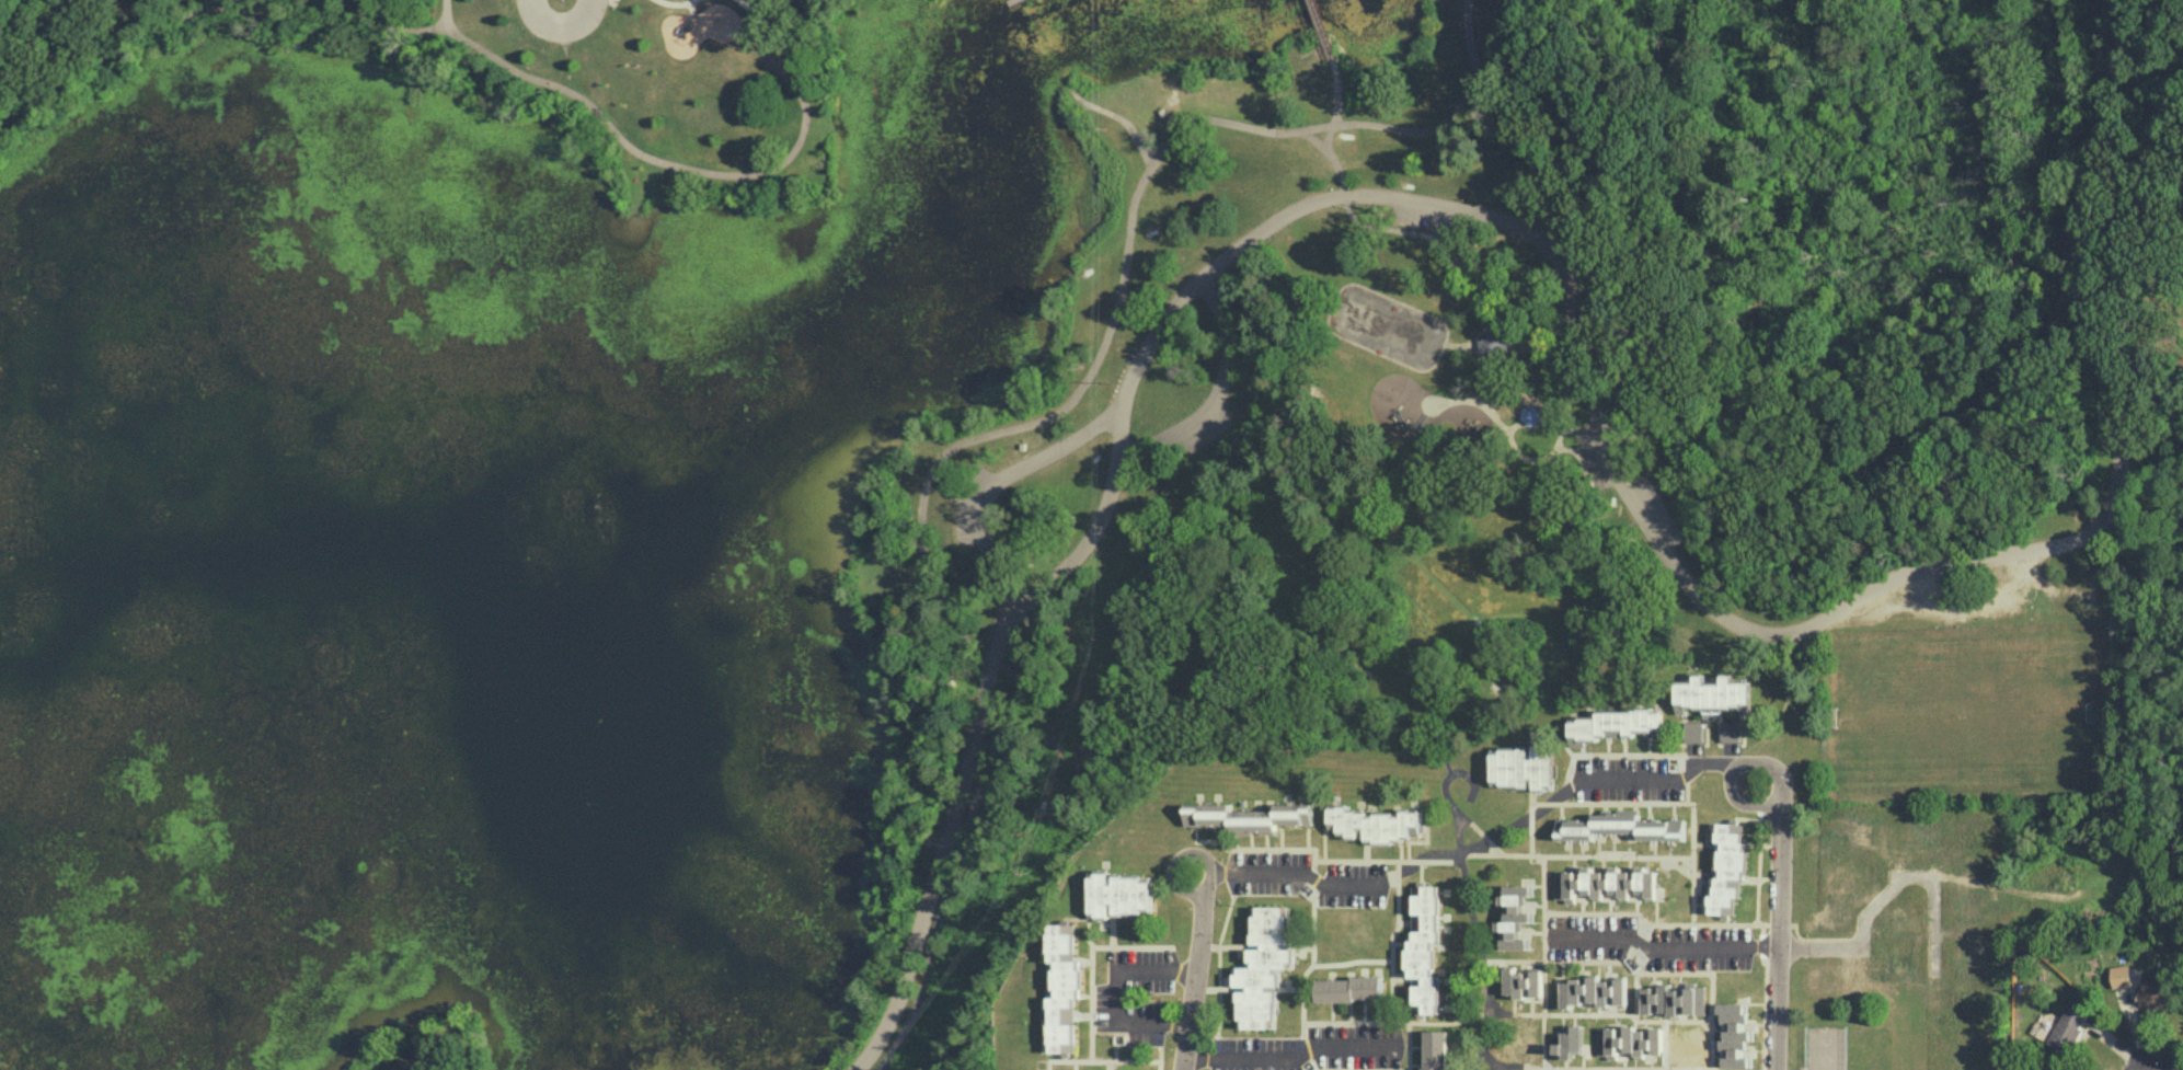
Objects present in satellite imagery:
pier: (1010, 0)
road: (600, 1)
road: (750, 1)
road: (676, 2)
road: (447, 14)
road: (752, 16)
road: (559, 23)
road: (1324, 30)
road: (484, 48)
road: (1123, 116)
road: (1315, 138)
road: (1345, 185)
parking lot: (1425, 218)
road: (1481, 279)
road: (1571, 285)
road: (1335, 331)
road: (1474, 341)
road: (1523, 343)
building: (1495, 345)
road: (1495, 364)
road: (1219, 388)
road: (1470, 398)
building: (1532, 414)
road: (1013, 426)
parking lot: (1207, 432)
parking lot: (1595, 453)
park: (943, 457)
road: (1536, 458)
road: (1585, 460)
road: (1831, 474)
road: (998, 480)
parking lot: (970, 502)
parking lot: (1661, 508)
building: (1714, 695)
building: (1619, 724)
building: (1694, 730)
building: (1732, 730)
road: (1612, 751)
building: (1525, 766)
road: (1685, 772)
road: (1444, 776)
road: (1663, 779)
road: (1686, 792)
road: (1737, 802)
building: (1251, 816)
building: (1376, 822)
building: (1621, 826)
road: (1485, 839)
road: (1691, 840)
road: (1266, 847)
road: (1386, 859)
building: (1728, 868)
road: (1289, 872)
road: (1757, 876)
road: (1200, 881)
building: (1606, 882)
road: (1692, 889)
building: (1121, 893)
road: (1782, 899)
road: (1544, 907)
building: (1515, 914)
road: (1312, 919)
road: (1646, 923)
road: (1760, 937)
road: (1391, 939)
road: (1666, 944)
road: (1822, 945)
building: (1426, 946)
road: (1478, 950)
road: (1218, 963)
building: (1264, 967)
road: (1307, 967)
road: (1544, 968)
road: (1697, 971)
building: (2121, 975)
road: (1197, 981)
building: (1524, 981)
building: (1065, 986)
building: (1349, 988)
building: (1594, 990)
road: (1118, 991)
road: (1090, 992)
building: (2156, 992)
building: (1662, 999)
building: (1694, 999)
road: (1763, 1011)
road: (1507, 1013)
building: (2068, 1028)
building: (1735, 1033)
building: (1629, 1040)
building: (1572, 1042)
road: (1157, 1045)
road: (1406, 1046)
park: (1825, 1047)
building: (1435, 1049)
road: (1292, 1056)
road: (1255, 1062)
road: (1495, 1068)
road: (1616, 1068)

